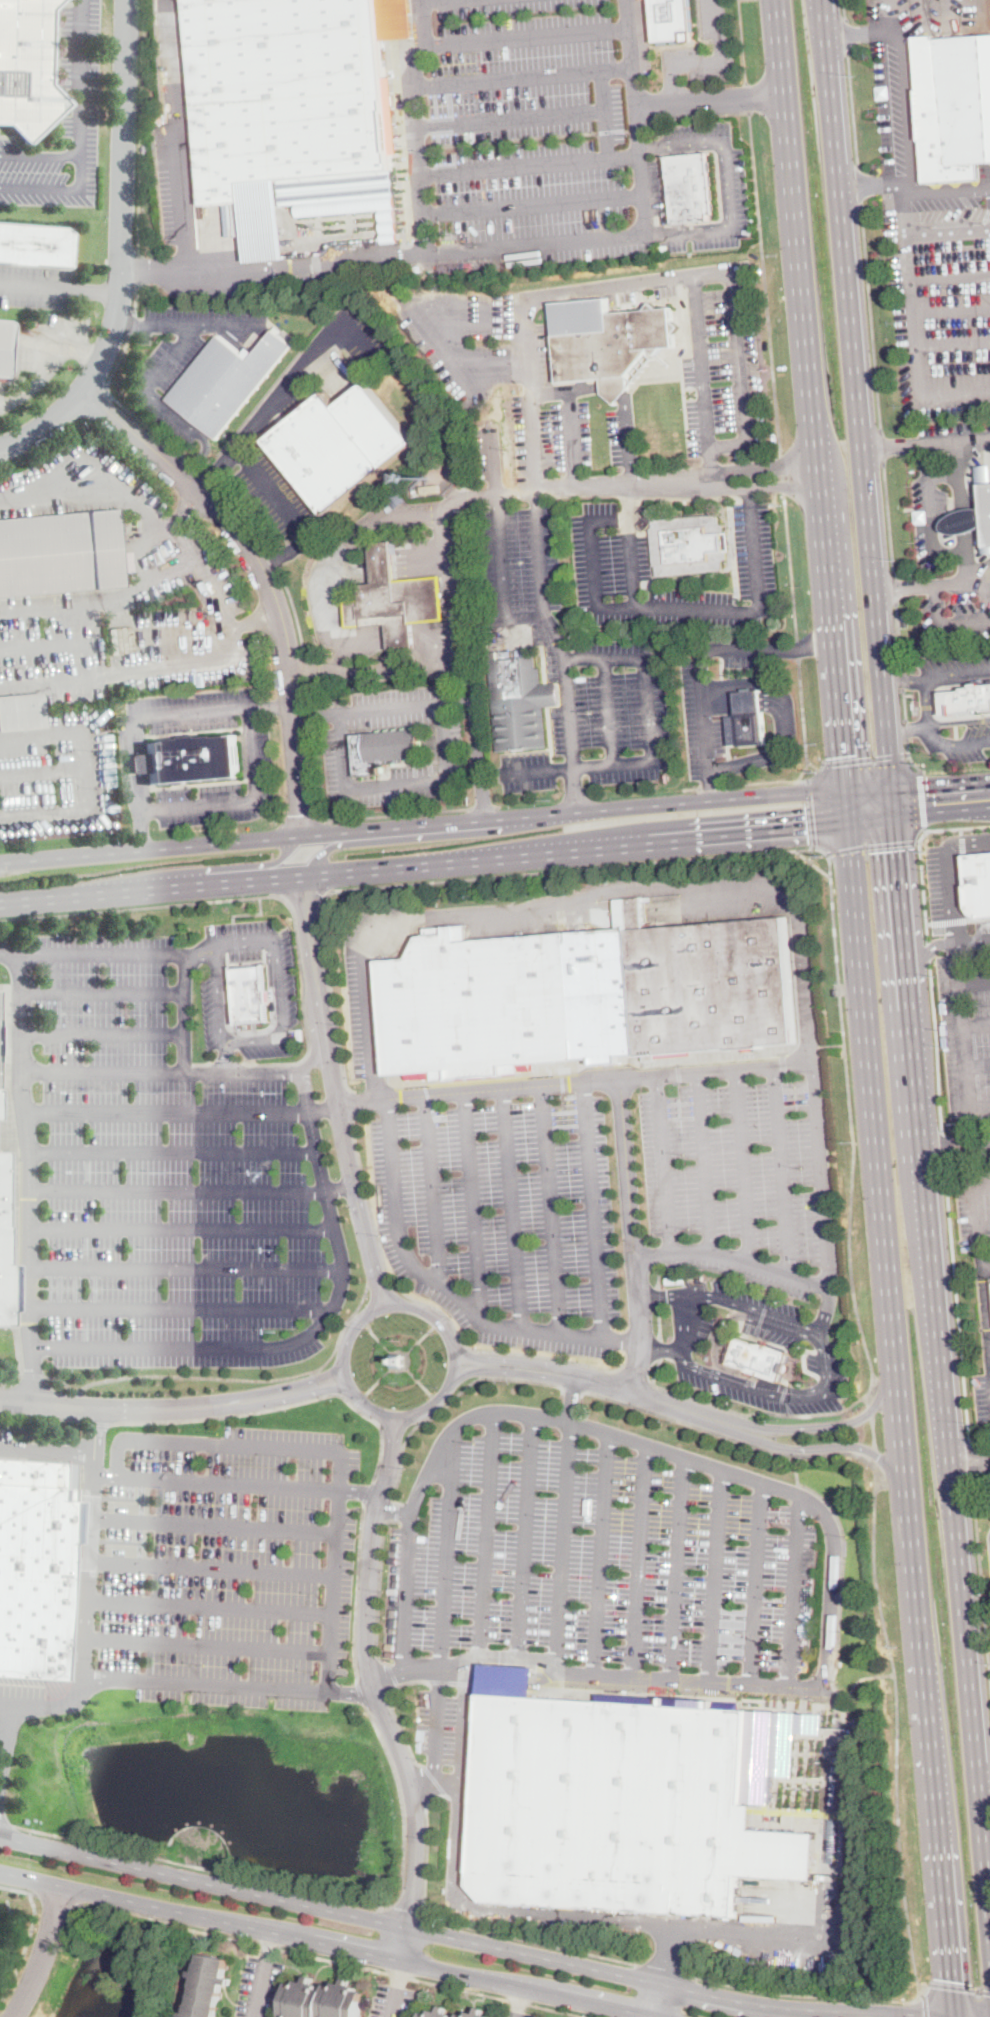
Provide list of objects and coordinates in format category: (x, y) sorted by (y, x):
road: (743, 0)
road: (844, 10)
parking lot: (977, 15)
parking lot: (915, 16)
building: (670, 19)
road: (873, 30)
road: (525, 35)
road: (847, 36)
road: (742, 41)
road: (630, 52)
building: (26, 67)
parking lot: (77, 67)
road: (519, 74)
road: (79, 77)
road: (747, 97)
road: (711, 99)
building: (953, 105)
road: (637, 106)
road: (898, 107)
road: (852, 108)
building: (295, 110)
road: (605, 111)
parking lot: (896, 111)
road: (509, 118)
road: (140, 123)
parking lot: (527, 131)
parking lot: (694, 135)
building: (145, 149)
road: (39, 152)
road: (527, 163)
road: (184, 172)
parking lot: (47, 173)
road: (728, 181)
parking lot: (733, 182)
road: (858, 185)
road: (56, 187)
building: (691, 188)
road: (915, 188)
parking lot: (169, 202)
road: (530, 203)
road: (795, 236)
building: (35, 245)
road: (123, 250)
road: (472, 250)
road: (307, 264)
road: (908, 265)
road: (729, 267)
road: (137, 268)
parking lot: (667, 281)
road: (764, 282)
road: (34, 284)
parking lot: (34, 285)
road: (95, 289)
parking lot: (939, 298)
road: (135, 300)
road: (527, 309)
road: (871, 319)
road: (132, 322)
road: (188, 324)
road: (427, 335)
parking lot: (477, 337)
road: (355, 339)
road: (953, 340)
building: (608, 342)
building: (5, 347)
parking lot: (48, 351)
parking lot: (331, 352)
road: (90, 354)
parking lot: (184, 355)
road: (172, 357)
parking lot: (722, 360)
road: (43, 365)
building: (640, 369)
building: (225, 382)
road: (619, 393)
road: (930, 394)
road: (122, 405)
road: (270, 406)
road: (861, 407)
road: (173, 413)
parking lot: (550, 433)
road: (571, 437)
road: (974, 440)
road: (988, 441)
road: (912, 445)
building: (340, 446)
road: (883, 448)
road: (199, 456)
road: (190, 461)
road: (492, 463)
road: (710, 464)
building: (983, 472)
road: (788, 473)
road: (90, 483)
parking lot: (942, 483)
parking lot: (85, 487)
building: (430, 489)
road: (273, 492)
road: (491, 493)
parking lot: (279, 498)
road: (627, 499)
road: (187, 510)
road: (965, 512)
building: (985, 512)
building: (690, 516)
road: (930, 516)
road: (888, 519)
building: (963, 522)
road: (183, 541)
building: (690, 545)
road: (538, 550)
road: (286, 551)
building: (60, 553)
parking lot: (608, 553)
parking lot: (753, 557)
parking lot: (524, 561)
road: (277, 564)
road: (789, 565)
road: (268, 576)
building: (695, 577)
road: (980, 581)
road: (924, 586)
road: (896, 589)
road: (502, 598)
building: (396, 601)
road: (986, 601)
road: (44, 603)
parking lot: (958, 604)
road: (634, 607)
road: (294, 610)
parking lot: (178, 619)
road: (943, 623)
parking lot: (545, 630)
road: (899, 636)
road: (66, 641)
road: (804, 646)
parking lot: (52, 647)
road: (797, 647)
road: (832, 647)
road: (230, 657)
road: (461, 662)
parking lot: (955, 666)
road: (305, 667)
road: (398, 667)
road: (697, 672)
road: (959, 673)
road: (902, 677)
road: (959, 679)
road: (907, 681)
road: (647, 685)
road: (307, 693)
parking lot: (696, 693)
building: (965, 700)
building: (520, 701)
road: (926, 701)
building: (749, 703)
road: (904, 704)
road: (272, 705)
parking lot: (395, 706)
parking lot: (192, 708)
road: (384, 708)
road: (607, 711)
building: (21, 712)
road: (308, 715)
parking lot: (600, 715)
road: (958, 721)
road: (784, 723)
road: (909, 728)
building: (747, 729)
road: (907, 730)
road: (62, 732)
road: (954, 742)
parking lot: (971, 745)
building: (384, 750)
traffic signals: (842, 755)
road: (806, 757)
road: (864, 757)
road: (909, 757)
building: (188, 760)
road: (813, 765)
parking lot: (397, 772)
road: (44, 773)
parking lot: (58, 773)
road: (814, 774)
road: (710, 785)
road: (711, 785)
road: (942, 785)
traffic signals: (926, 786)
parking lot: (224, 788)
road: (396, 788)
road: (691, 788)
road: (870, 789)
road: (574, 790)
road: (922, 798)
road: (135, 807)
road: (64, 808)
road: (943, 810)
road: (810, 813)
road: (351, 816)
road: (872, 819)
traffic signals: (806, 826)
road: (422, 827)
road: (960, 830)
road: (140, 831)
road: (968, 842)
road: (961, 843)
road: (872, 845)
road: (333, 847)
traffic signals: (900, 848)
road: (577, 849)
road: (919, 852)
road: (811, 861)
road: (235, 867)
road: (456, 877)
building: (978, 883)
road: (153, 889)
road: (302, 893)
parking lot: (950, 897)
road: (139, 906)
road: (251, 913)
road: (954, 914)
road: (949, 921)
road: (929, 923)
parking lot: (239, 929)
road: (235, 941)
road: (973, 941)
road: (218, 948)
road: (929, 948)
road: (928, 951)
road: (161, 952)
road: (11, 958)
road: (103, 991)
building: (252, 991)
building: (584, 996)
parking lot: (275, 1002)
road: (303, 1004)
parking lot: (211, 1009)
parking lot: (361, 1013)
road: (975, 1023)
road: (282, 1025)
road: (251, 1031)
road: (103, 1034)
parking lot: (967, 1035)
road: (962, 1041)
road: (832, 1044)
road: (937, 1047)
road: (225, 1055)
road: (313, 1055)
road: (918, 1060)
road: (977, 1066)
road: (771, 1067)
road: (331, 1071)
road: (161, 1072)
road: (305, 1092)
road: (355, 1102)
road: (357, 1102)
road: (324, 1109)
road: (166, 1111)
road: (958, 1146)
road: (944, 1148)
road: (173, 1151)
road: (705, 1163)
road: (664, 1165)
road: (743, 1166)
road: (783, 1171)
parking lot: (160, 1173)
road: (28, 1183)
road: (341, 1189)
road: (432, 1189)
road: (15, 1190)
road: (178, 1192)
road: (822, 1195)
road: (976, 1204)
road: (473, 1205)
parking lot: (974, 1206)
road: (513, 1208)
road: (551, 1209)
road: (594, 1210)
parking lot: (626, 1216)
road: (333, 1223)
road: (182, 1228)
road: (851, 1232)
road: (633, 1236)
road: (980, 1252)
road: (715, 1253)
building: (5, 1258)
road: (186, 1269)
road: (657, 1274)
road: (445, 1286)
road: (387, 1287)
road: (376, 1289)
road: (657, 1295)
road: (658, 1295)
road: (785, 1295)
road: (727, 1299)
road: (424, 1302)
road: (956, 1303)
road: (179, 1309)
road: (686, 1316)
road: (359, 1319)
road: (659, 1320)
road: (420, 1339)
road: (175, 1346)
road: (660, 1347)
road: (686, 1348)
building: (759, 1357)
building: (398, 1359)
building: (796, 1359)
road: (456, 1360)
road: (515, 1361)
road: (390, 1363)
road: (749, 1365)
road: (32, 1373)
road: (512, 1373)
road: (634, 1376)
road: (230, 1378)
road: (378, 1380)
road: (419, 1380)
road: (282, 1386)
road: (572, 1388)
road: (805, 1396)
parking lot: (982, 1396)
road: (285, 1397)
road: (572, 1398)
road: (868, 1398)
road: (661, 1402)
road: (434, 1404)
road: (447, 1404)
road: (278, 1406)
road: (108, 1408)
road: (869, 1410)
road: (43, 1415)
road: (900, 1419)
road: (98, 1421)
road: (833, 1425)
road: (872, 1431)
road: (400, 1433)
road: (390, 1434)
parking lot: (5, 1441)
road: (836, 1447)
road: (47, 1450)
road: (873, 1453)
road: (970, 1453)
road: (971, 1463)
road: (228, 1483)
road: (367, 1491)
road: (360, 1493)
road: (817, 1493)
road: (395, 1511)
road: (214, 1524)
road: (875, 1526)
road: (488, 1535)
road: (526, 1537)
parking lot: (989, 1540)
road: (562, 1547)
road: (446, 1552)
road: (601, 1553)
road: (336, 1554)
road: (639, 1560)
building: (35, 1566)
road: (211, 1567)
parking lot: (217, 1567)
parking lot: (612, 1567)
road: (677, 1567)
road: (716, 1575)
road: (833, 1575)
road: (755, 1583)
road: (964, 1587)
road: (378, 1589)
road: (355, 1591)
road: (408, 1592)
road: (793, 1592)
road: (982, 1600)
road: (210, 1605)
road: (86, 1619)
road: (207, 1646)
road: (392, 1673)
road: (352, 1691)
road: (376, 1692)
road: (361, 1694)
parking lot: (64, 1695)
parking lot: (20, 1701)
road: (7, 1708)
road: (394, 1710)
parking lot: (447, 1722)
road: (436, 1723)
road: (436, 1779)
road: (434, 1780)
road: (986, 1790)
building: (627, 1800)
road: (6, 1823)
road: (3, 1827)
road: (899, 1833)
road: (428, 1849)
road: (18, 1888)
road: (304, 1890)
road: (55, 1897)
road: (472, 1911)
road: (408, 1914)
road: (172, 1923)
road: (752, 1928)
road: (534, 1941)
road: (474, 1942)
road: (326, 1943)
road: (404, 1943)
road: (275, 1946)
road: (26, 1949)
road: (46, 1954)
road: (334, 1958)
road: (667, 1970)
road: (399, 1972)
road: (263, 1974)
traffic signals: (950, 1980)
building: (208, 1987)
parking lot: (259, 1987)
road: (459, 1987)
road: (396, 1988)
road: (960, 1988)
road: (799, 1994)
road: (919, 1995)
building: (323, 2000)
parking lot: (392, 2000)
road: (517, 2000)
road: (660, 2001)
road: (517, 2002)
road: (925, 2004)
road: (560, 2009)
building: (438, 2013)
parking lot: (519, 2013)
building: (476, 2014)
road: (954, 2016)

